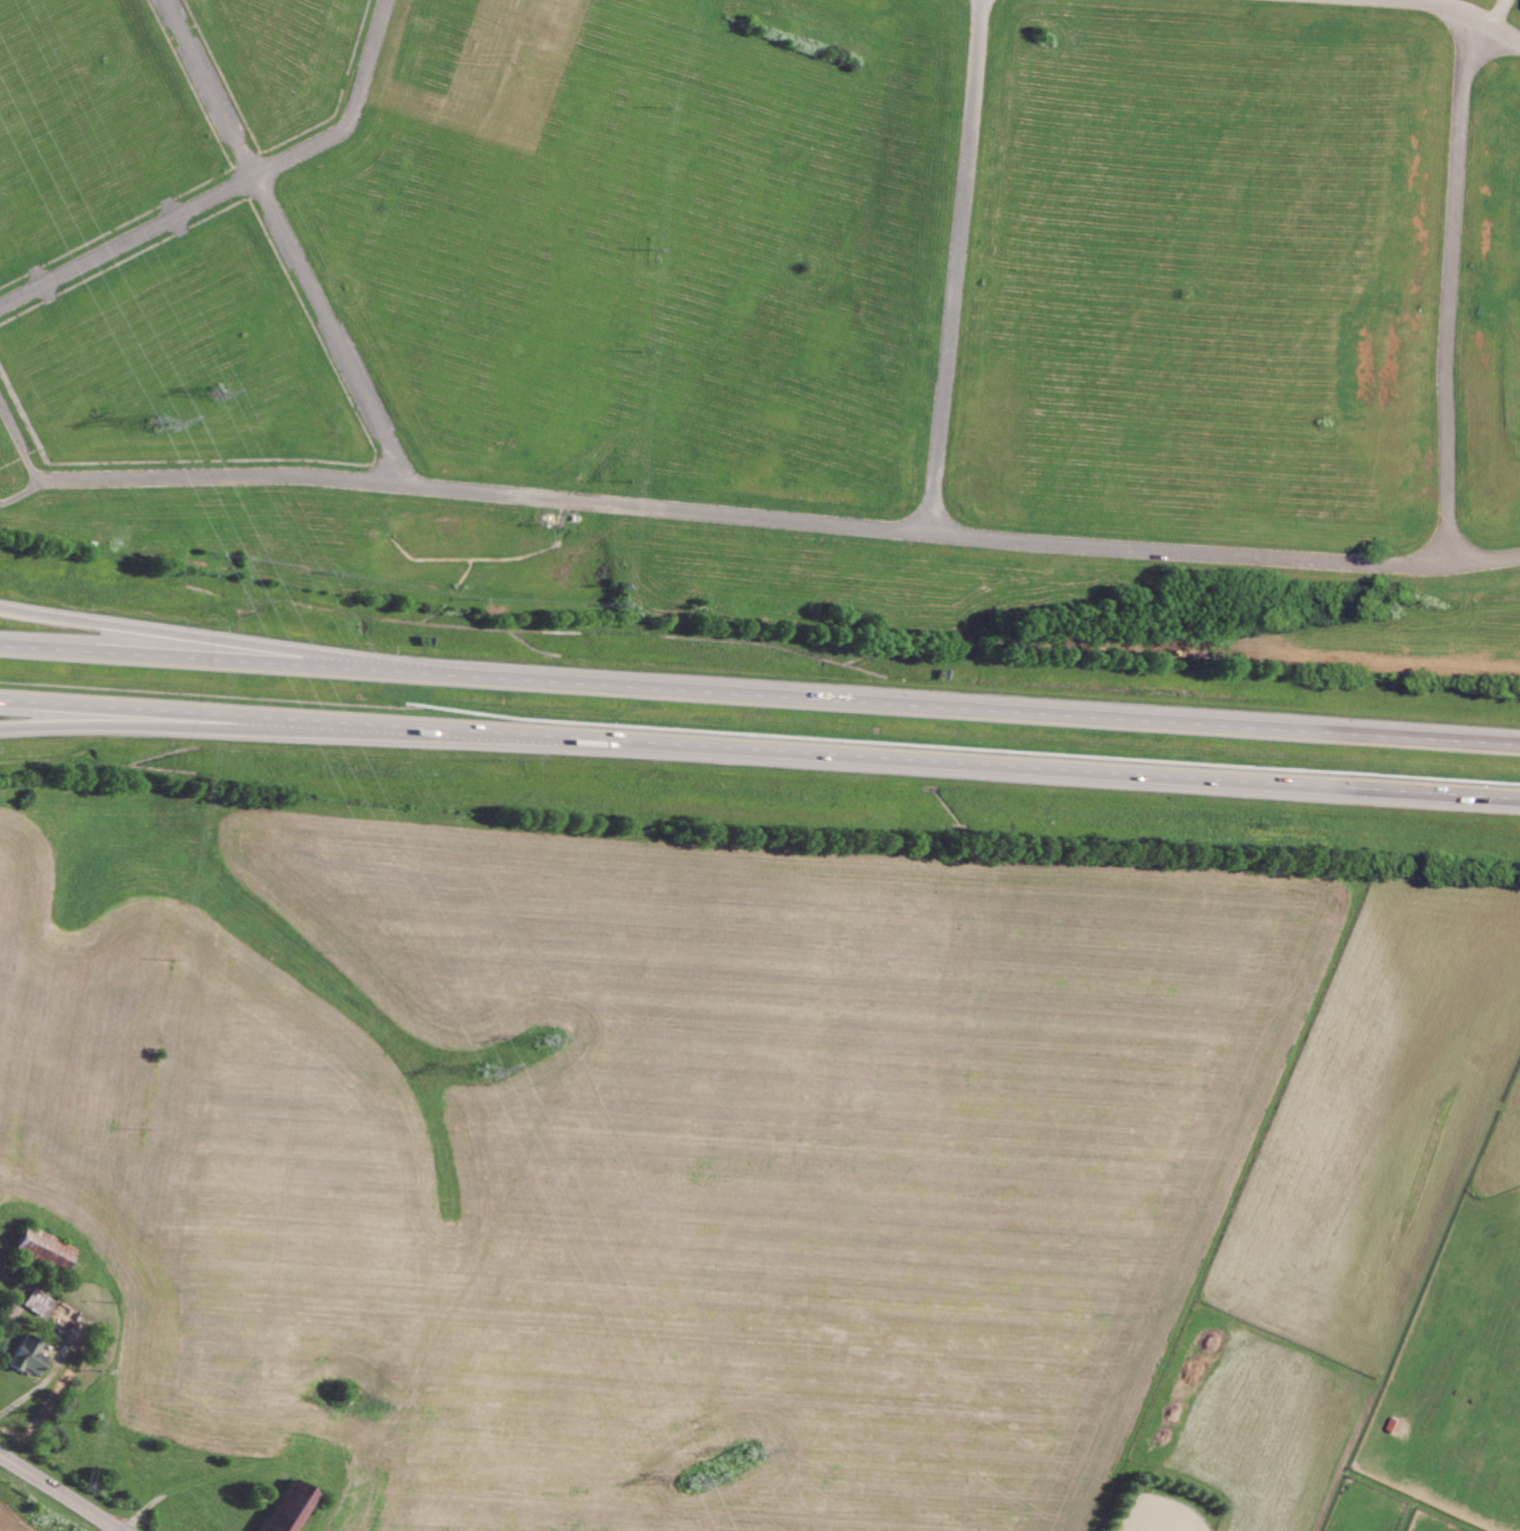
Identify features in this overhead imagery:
road: (1459, 10)
road: (1494, 11)
road: (232, 186)
road: (287, 242)
road: (957, 266)
road: (1448, 288)
power tower: (221, 401)
power tower: (163, 429)
road: (18, 441)
road: (22, 494)
road: (779, 518)
road: (207, 639)
road: (760, 691)
road: (252, 729)
road: (759, 752)
power tower: (550, 1046)
power tower: (491, 1075)
building: (47, 1249)
building: (44, 1302)
building: (31, 1356)
power tower: (756, 1455)
power tower: (700, 1488)
road: (60, 1491)
building: (291, 1507)

